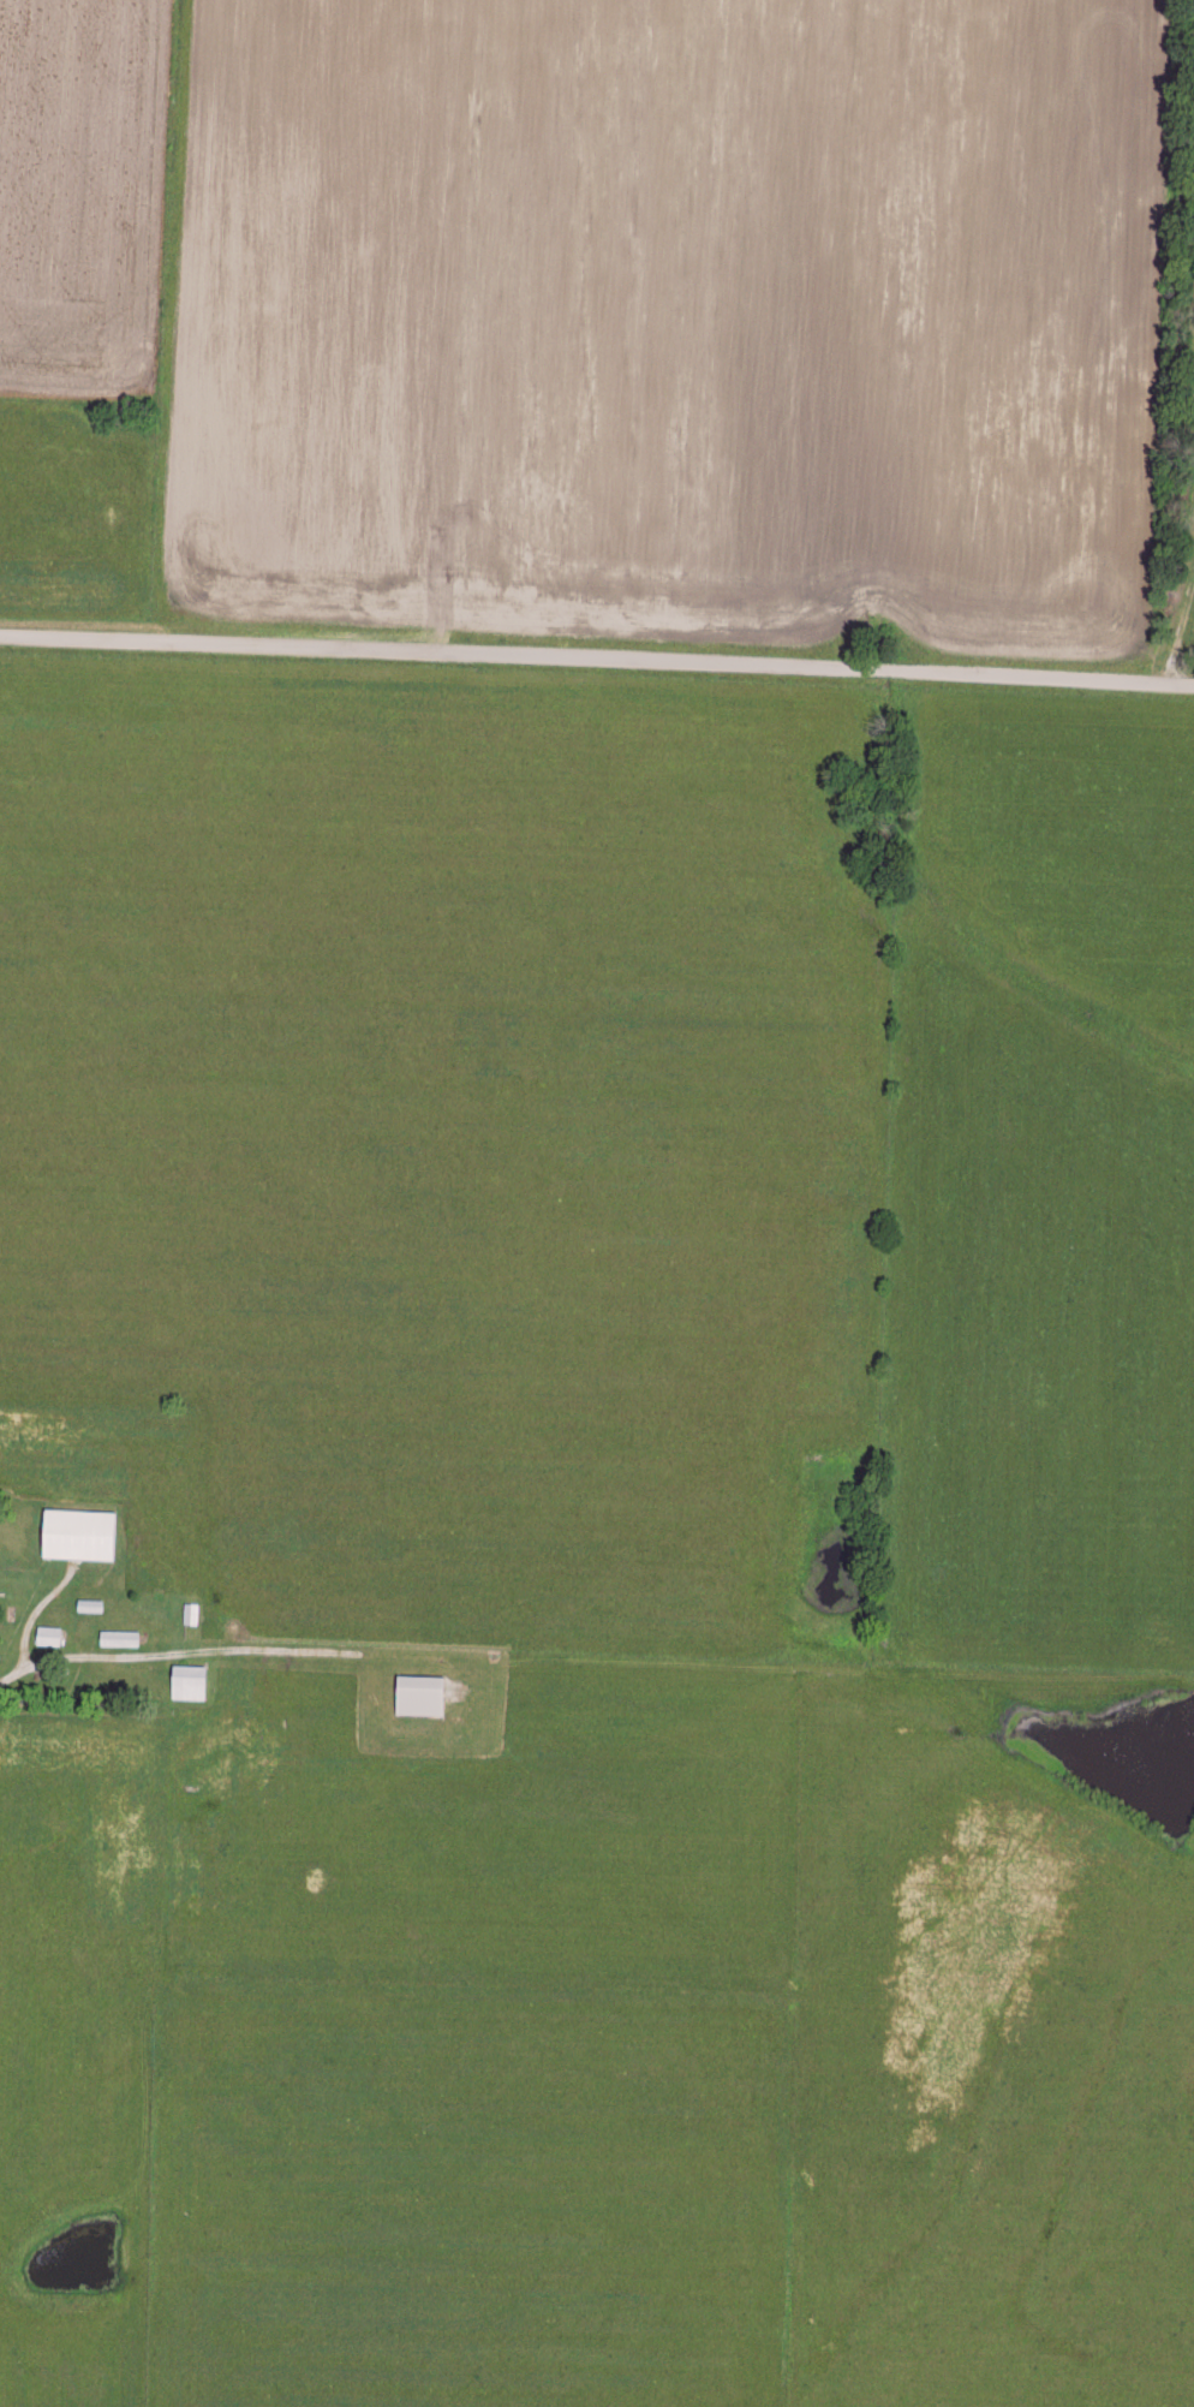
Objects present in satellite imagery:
road: (169, 321)
road: (596, 662)
building: (73, 1531)
road: (29, 1627)
building: (47, 1633)
building: (117, 1636)
building: (185, 1680)
building: (417, 1692)

